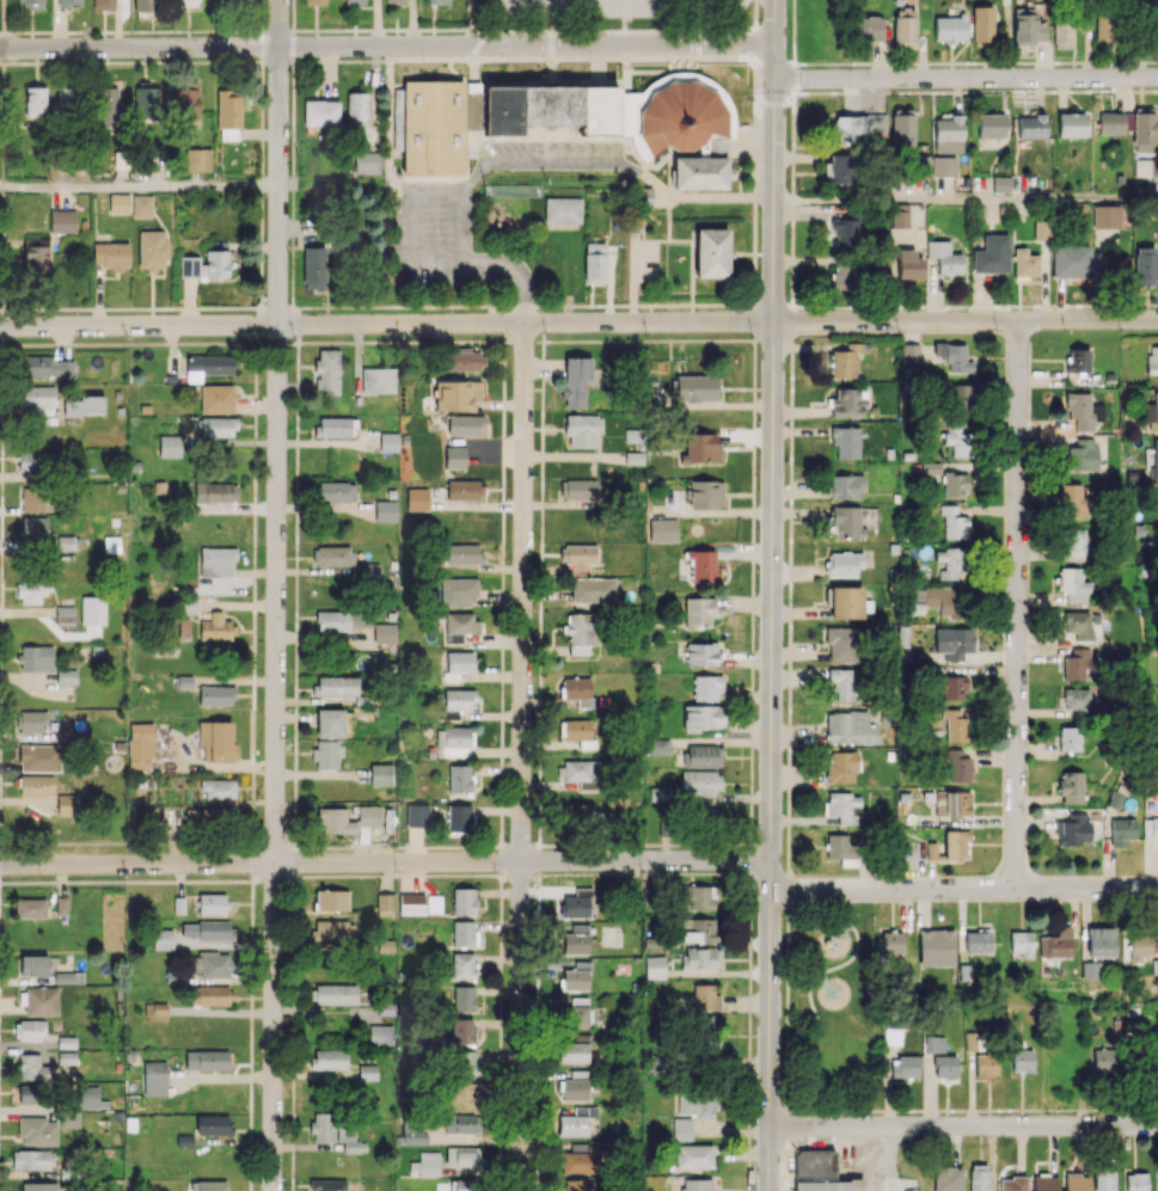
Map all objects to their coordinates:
building: (354, 1)
building: (394, 1)
building: (440, 1)
building: (69, 2)
building: (186, 2)
building: (314, 2)
building: (31, 4)
building: (103, 4)
building: (143, 5)
road: (755, 13)
road: (262, 14)
road: (292, 14)
road: (2, 16)
building: (982, 25)
building: (903, 26)
road: (747, 27)
building: (868, 27)
building: (1027, 27)
building: (1156, 27)
building: (950, 29)
road: (258, 30)
road: (276, 30)
road: (378, 30)
road: (480, 30)
road: (699, 30)
road: (6, 31)
road: (18, 31)
road: (110, 31)
road: (225, 31)
road: (503, 31)
road: (523, 31)
road: (545, 31)
road: (572, 31)
road: (626, 31)
building: (1103, 31)
building: (1061, 35)
road: (755, 42)
road: (698, 43)
road: (290, 44)
road: (263, 45)
road: (386, 45)
road: (2, 47)
road: (529, 57)
road: (232, 60)
road: (276, 60)
road: (305, 60)
road: (197, 61)
road: (23, 62)
road: (73, 62)
road: (117, 62)
road: (142, 62)
road: (157, 62)
road: (176, 62)
road: (2, 67)
road: (262, 73)
road: (293, 73)
road: (966, 78)
road: (774, 91)
traffic signals: (774, 91)
road: (262, 96)
building: (66, 99)
building: (146, 99)
building: (35, 102)
building: (186, 102)
building: (108, 109)
building: (356, 109)
building: (612, 111)
building: (320, 112)
building: (228, 115)
building: (1110, 123)
road: (2, 124)
building: (1071, 124)
building: (1030, 125)
building: (429, 127)
building: (857, 127)
building: (902, 127)
building: (948, 127)
building: (1144, 129)
building: (991, 130)
building: (198, 159)
building: (367, 162)
building: (921, 164)
road: (624, 165)
building: (943, 166)
building: (1146, 167)
building: (839, 168)
building: (699, 172)
road: (755, 173)
building: (1000, 184)
road: (2, 185)
road: (139, 186)
road: (261, 191)
road: (292, 196)
building: (644, 196)
road: (966, 198)
building: (118, 203)
building: (141, 205)
road: (2, 209)
building: (562, 209)
building: (899, 215)
building: (1105, 216)
building: (62, 221)
road: (459, 223)
building: (844, 227)
building: (1041, 228)
road: (1, 234)
building: (152, 250)
building: (710, 252)
building: (111, 254)
building: (992, 254)
building: (36, 256)
building: (944, 257)
road: (429, 260)
building: (1071, 260)
building: (207, 262)
building: (593, 262)
building: (1024, 263)
building: (908, 264)
building: (1145, 265)
building: (1110, 266)
building: (313, 268)
road: (0, 275)
building: (843, 276)
road: (261, 284)
road: (753, 289)
road: (261, 300)
road: (733, 303)
road: (429, 305)
road: (637, 305)
road: (314, 306)
road: (354, 306)
road: (496, 306)
road: (520, 306)
road: (545, 306)
road: (26, 307)
road: (157, 308)
road: (276, 308)
road: (755, 319)
road: (966, 320)
road: (498, 321)
road: (386, 324)
road: (522, 336)
road: (729, 339)
road: (415, 340)
road: (476, 340)
road: (602, 340)
road: (684, 340)
road: (294, 342)
road: (306, 342)
road: (345, 342)
road: (122, 343)
road: (258, 343)
road: (8, 344)
road: (503, 350)
road: (298, 352)
building: (909, 352)
road: (255, 354)
building: (954, 357)
building: (465, 360)
building: (844, 360)
building: (1077, 360)
building: (1152, 361)
building: (208, 364)
road: (541, 364)
building: (48, 367)
building: (326, 372)
road: (255, 373)
building: (378, 380)
building: (575, 380)
building: (696, 387)
building: (455, 394)
road: (1, 395)
building: (962, 397)
building: (36, 399)
building: (216, 399)
road: (543, 399)
building: (848, 403)
building: (82, 405)
building: (1083, 411)
building: (1152, 415)
building: (465, 424)
building: (217, 426)
road: (255, 426)
building: (336, 426)
building: (582, 430)
building: (388, 441)
building: (845, 442)
building: (169, 446)
building: (700, 448)
road: (541, 455)
building: (1082, 455)
building: (454, 458)
building: (1154, 461)
building: (35, 462)
road: (503, 472)
building: (955, 484)
building: (844, 486)
building: (578, 489)
road: (296, 490)
building: (464, 490)
building: (336, 491)
building: (705, 493)
building: (214, 497)
building: (31, 498)
building: (417, 498)
building: (1073, 501)
building: (385, 510)
building: (846, 522)
building: (954, 523)
building: (33, 528)
road: (541, 528)
building: (662, 529)
road: (1, 536)
building: (111, 544)
building: (1072, 544)
building: (462, 553)
building: (332, 555)
building: (578, 555)
building: (216, 561)
road: (540, 561)
building: (950, 563)
building: (843, 564)
building: (701, 566)
road: (253, 581)
road: (540, 583)
road: (752, 583)
building: (1073, 583)
building: (32, 590)
building: (593, 590)
building: (458, 591)
road: (275, 595)
road: (771, 595)
building: (939, 598)
building: (845, 602)
building: (186, 604)
road: (1016, 604)
road: (502, 609)
building: (92, 610)
building: (699, 610)
building: (65, 615)
building: (343, 620)
road: (540, 621)
building: (1079, 625)
building: (458, 626)
building: (216, 628)
building: (384, 633)
building: (578, 633)
road: (502, 639)
road: (0, 641)
building: (952, 641)
building: (840, 644)
building: (700, 653)
road: (540, 657)
building: (35, 658)
road: (502, 659)
building: (459, 662)
building: (1077, 663)
road: (0, 668)
building: (66, 676)
building: (841, 683)
building: (335, 686)
road: (539, 687)
building: (951, 687)
building: (706, 688)
building: (576, 690)
building: (215, 695)
road: (252, 696)
road: (294, 699)
building: (458, 699)
building: (1074, 701)
road: (0, 712)
building: (703, 717)
building: (31, 720)
building: (329, 723)
building: (955, 724)
road: (501, 725)
building: (848, 728)
building: (577, 729)
road: (539, 737)
building: (453, 738)
building: (1068, 738)
building: (216, 739)
building: (140, 745)
building: (658, 745)
building: (325, 754)
building: (703, 755)
road: (521, 756)
building: (39, 757)
road: (251, 757)
building: (958, 765)
building: (840, 766)
building: (581, 772)
building: (380, 774)
road: (539, 776)
building: (459, 778)
building: (699, 782)
building: (36, 786)
building: (1070, 787)
building: (217, 788)
road: (501, 791)
building: (658, 793)
building: (951, 803)
building: (67, 804)
road: (539, 805)
building: (841, 805)
building: (617, 808)
road: (501, 811)
building: (417, 815)
building: (580, 815)
road: (293, 816)
building: (368, 816)
building: (707, 816)
building: (459, 818)
building: (333, 821)
road: (251, 824)
building: (1150, 828)
building: (1073, 829)
building: (1121, 830)
road: (502, 831)
road: (749, 834)
road: (539, 835)
road: (24, 842)
road: (86, 842)
road: (145, 842)
road: (173, 842)
road: (215, 842)
road: (711, 843)
building: (955, 843)
road: (547, 845)
road: (600, 845)
road: (660, 845)
road: (476, 846)
road: (491, 846)
road: (498, 846)
road: (325, 847)
road: (424, 847)
building: (839, 847)
road: (363, 848)
road: (379, 848)
building: (935, 851)
road: (535, 859)
road: (289, 861)
road: (384, 861)
road: (563, 873)
road: (609, 873)
road: (668, 873)
road: (727, 873)
road: (398, 874)
road: (271, 876)
road: (519, 876)
road: (125, 880)
road: (963, 889)
road: (252, 896)
building: (698, 896)
building: (331, 900)
building: (462, 901)
building: (212, 903)
building: (576, 903)
building: (61, 904)
building: (385, 904)
building: (411, 904)
building: (30, 907)
building: (206, 929)
building: (697, 929)
building: (332, 931)
road: (788, 932)
building: (464, 933)
road: (293, 937)
building: (163, 939)
building: (576, 940)
building: (979, 940)
building: (1099, 941)
building: (892, 943)
building: (1056, 944)
building: (1022, 945)
road: (501, 946)
building: (936, 947)
building: (1136, 947)
road: (251, 951)
building: (700, 958)
building: (212, 964)
building: (32, 965)
building: (462, 965)
building: (654, 966)
building: (1090, 970)
road: (749, 972)
building: (68, 977)
building: (575, 977)
road: (814, 978)
building: (336, 994)
building: (212, 995)
building: (705, 996)
building: (464, 997)
road: (293, 999)
building: (38, 1000)
park: (831, 1007)
building: (155, 1012)
building: (575, 1013)
road: (537, 1024)
road: (501, 1025)
building: (31, 1030)
building: (461, 1031)
building: (894, 1031)
building: (381, 1035)
road: (293, 1038)
building: (972, 1040)
building: (935, 1044)
road: (501, 1052)
building: (574, 1052)
building: (329, 1058)
building: (206, 1060)
building: (1022, 1060)
building: (462, 1062)
building: (1102, 1062)
road: (250, 1064)
building: (986, 1064)
building: (945, 1066)
building: (31, 1067)
building: (905, 1067)
building: (154, 1079)
building: (572, 1086)
road: (292, 1091)
building: (26, 1094)
building: (460, 1095)
road: (748, 1097)
building: (88, 1098)
building: (698, 1105)
road: (796, 1112)
building: (69, 1119)
building: (576, 1121)
building: (461, 1123)
building: (213, 1124)
road: (962, 1124)
road: (292, 1125)
building: (323, 1126)
road: (500, 1128)
building: (681, 1129)
building: (37, 1130)
building: (412, 1131)
building: (349, 1137)
building: (462, 1156)
building: (694, 1156)
road: (250, 1158)
road: (747, 1158)
road: (893, 1158)
building: (30, 1159)
building: (580, 1159)
building: (814, 1162)
building: (425, 1164)
road: (292, 1166)
road: (535, 1174)
building: (979, 1177)
building: (948, 1178)
building: (1103, 1180)
building: (1077, 1181)
building: (1136, 1181)
building: (1157, 1181)
building: (1012, 1183)
building: (1044, 1183)
road: (249, 1184)
building: (327, 1184)
building: (574, 1184)
building: (208, 1185)
building: (465, 1185)
road: (535, 1185)
building: (697, 1185)
building: (820, 1185)
building: (39, 1186)

